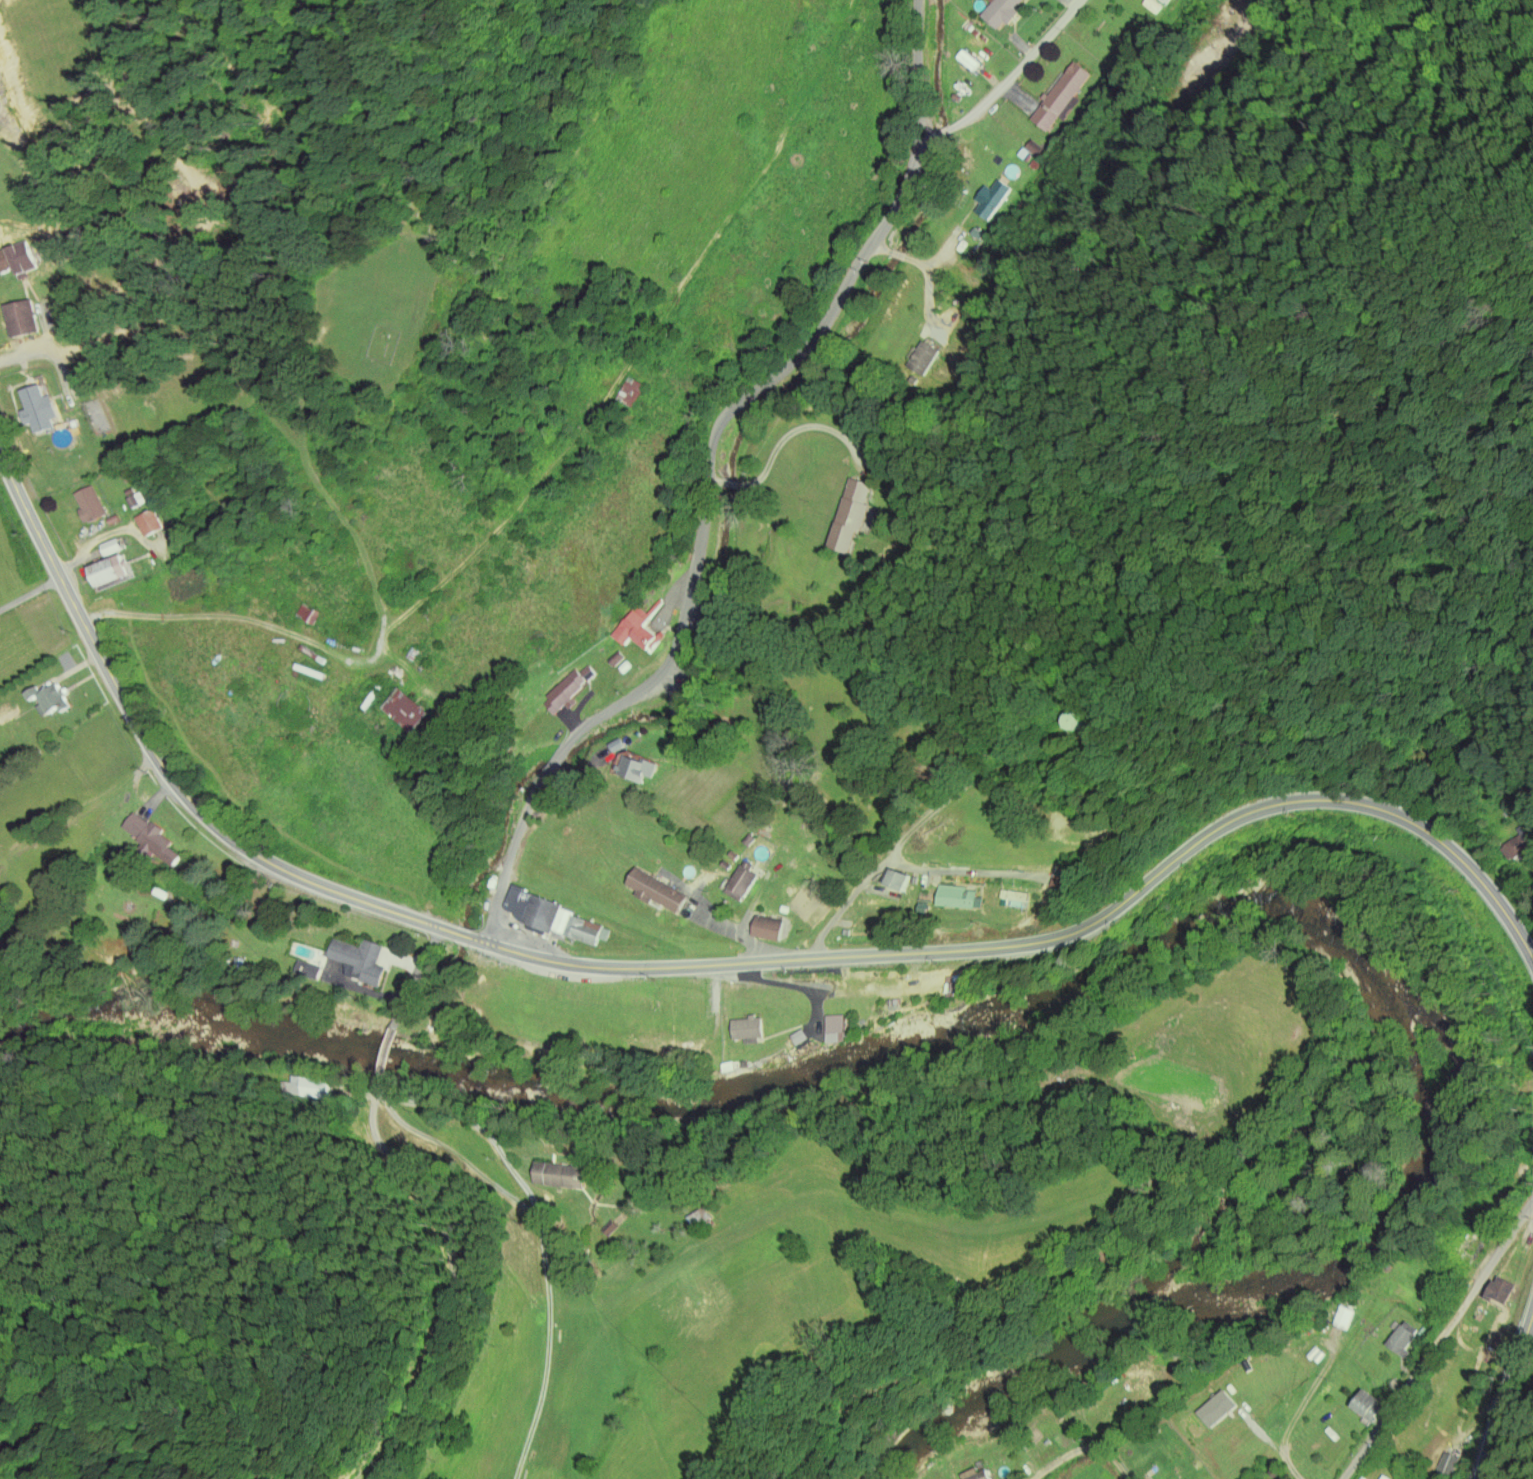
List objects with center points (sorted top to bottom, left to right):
building: (1153, 4)
building: (1000, 12)
building: (966, 26)
building: (973, 32)
building: (982, 39)
road: (1033, 55)
building: (966, 61)
building: (1212, 66)
building: (1060, 98)
road: (954, 123)
building: (1035, 149)
building: (1023, 155)
building: (997, 161)
building: (1034, 166)
building: (990, 200)
building: (975, 234)
road: (881, 247)
building: (961, 247)
road: (945, 254)
road: (902, 256)
building: (8, 260)
road: (930, 290)
building: (20, 319)
building: (922, 358)
building: (911, 381)
road: (763, 383)
building: (631, 392)
building: (34, 410)
road: (803, 429)
building: (874, 456)
road: (714, 470)
road: (731, 482)
building: (87, 504)
building: (850, 515)
building: (148, 524)
building: (108, 572)
building: (307, 616)
building: (641, 629)
building: (616, 659)
building: (624, 667)
building: (567, 691)
building: (48, 700)
building: (403, 712)
building: (1067, 723)
building: (614, 743)
road: (157, 758)
road: (553, 760)
building: (637, 770)
road: (156, 792)
building: (151, 840)
building: (750, 840)
building: (1518, 844)
road: (891, 853)
building: (733, 856)
road: (509, 857)
building: (724, 866)
building: (895, 880)
building: (913, 881)
building: (742, 882)
building: (1063, 882)
building: (656, 891)
building: (1012, 895)
building: (957, 898)
building: (921, 908)
building: (537, 912)
building: (768, 928)
building: (586, 930)
building: (520, 931)
gas station: (520, 931)
building: (845, 932)
road: (460, 935)
road: (1057, 939)
river: (1132, 958)
building: (359, 962)
road: (414, 977)
building: (953, 985)
building: (891, 1002)
building: (833, 1029)
building: (747, 1030)
building: (797, 1038)
road: (384, 1058)
building: (734, 1067)
road: (400, 1118)
road: (473, 1130)
building: (1493, 1170)
building: (1520, 1172)
building: (558, 1177)
building: (699, 1222)
building: (1470, 1247)
road: (543, 1284)
building: (1498, 1291)
road: (438, 1295)
building: (1342, 1318)
building: (1421, 1332)
building: (1400, 1340)
road: (1438, 1341)
building: (1487, 1346)
building: (1311, 1353)
building: (1317, 1357)
building: (1144, 1381)
building: (1393, 1385)
road: (1506, 1393)
road: (1308, 1400)
building: (1215, 1405)
building: (1365, 1408)
building: (1153, 1432)
building: (1300, 1434)
building: (1463, 1444)
road: (1273, 1449)
road: (1069, 1451)
building: (1446, 1466)
road: (1119, 1469)
building: (1274, 1473)
building: (1149, 1474)
building: (972, 1475)
building: (1361, 1478)
building: (1383, 1478)

